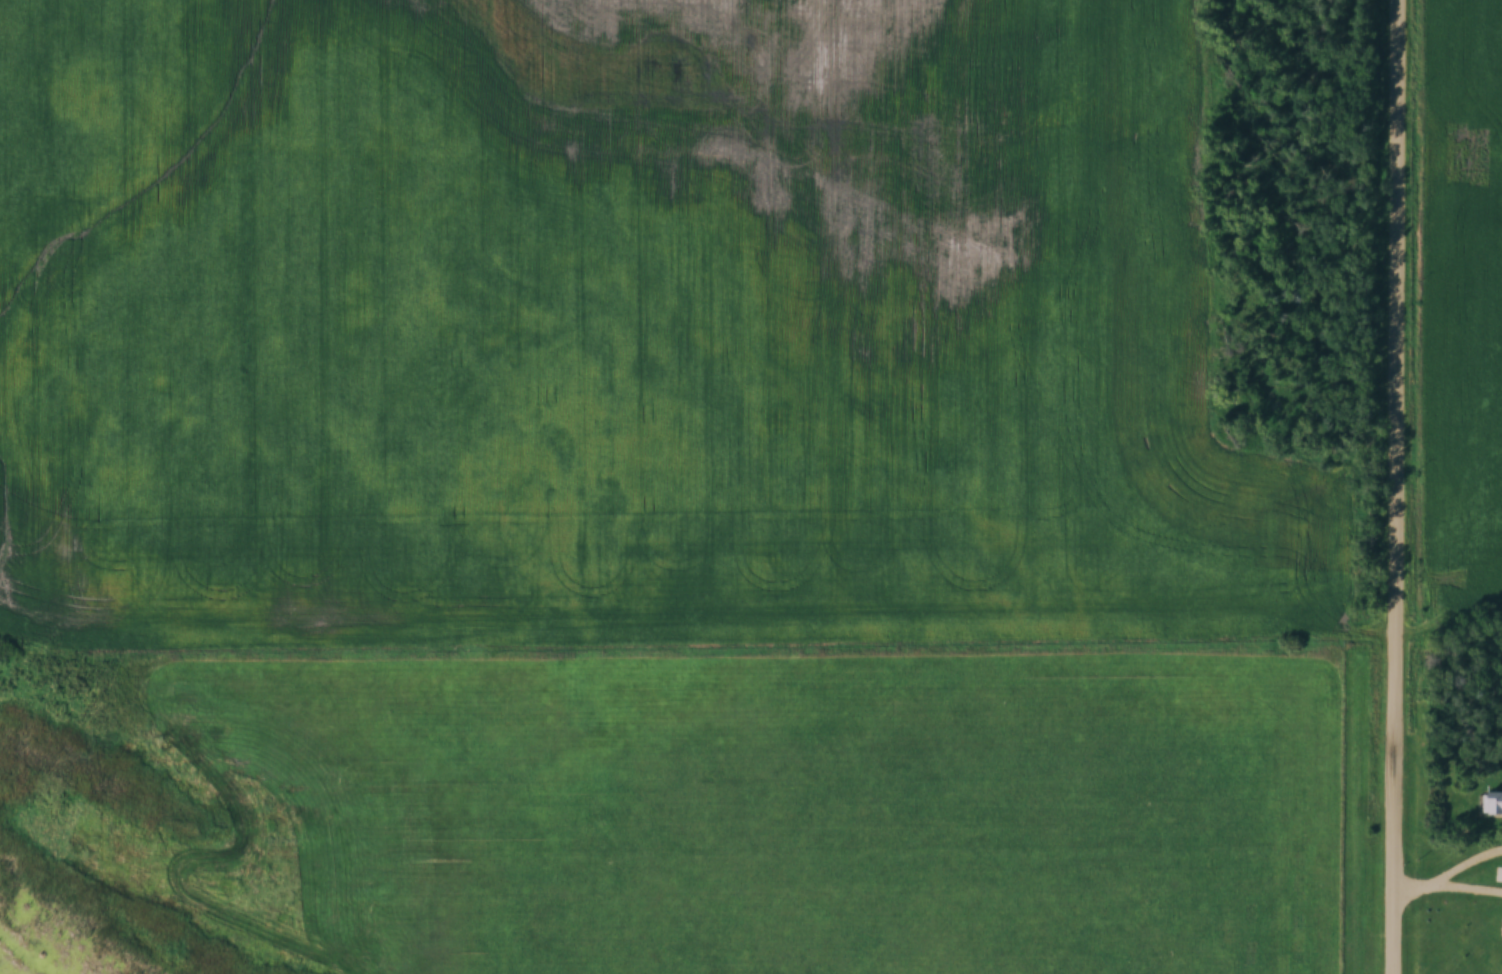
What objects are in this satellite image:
road: (1404, 487)
building: (1494, 802)

